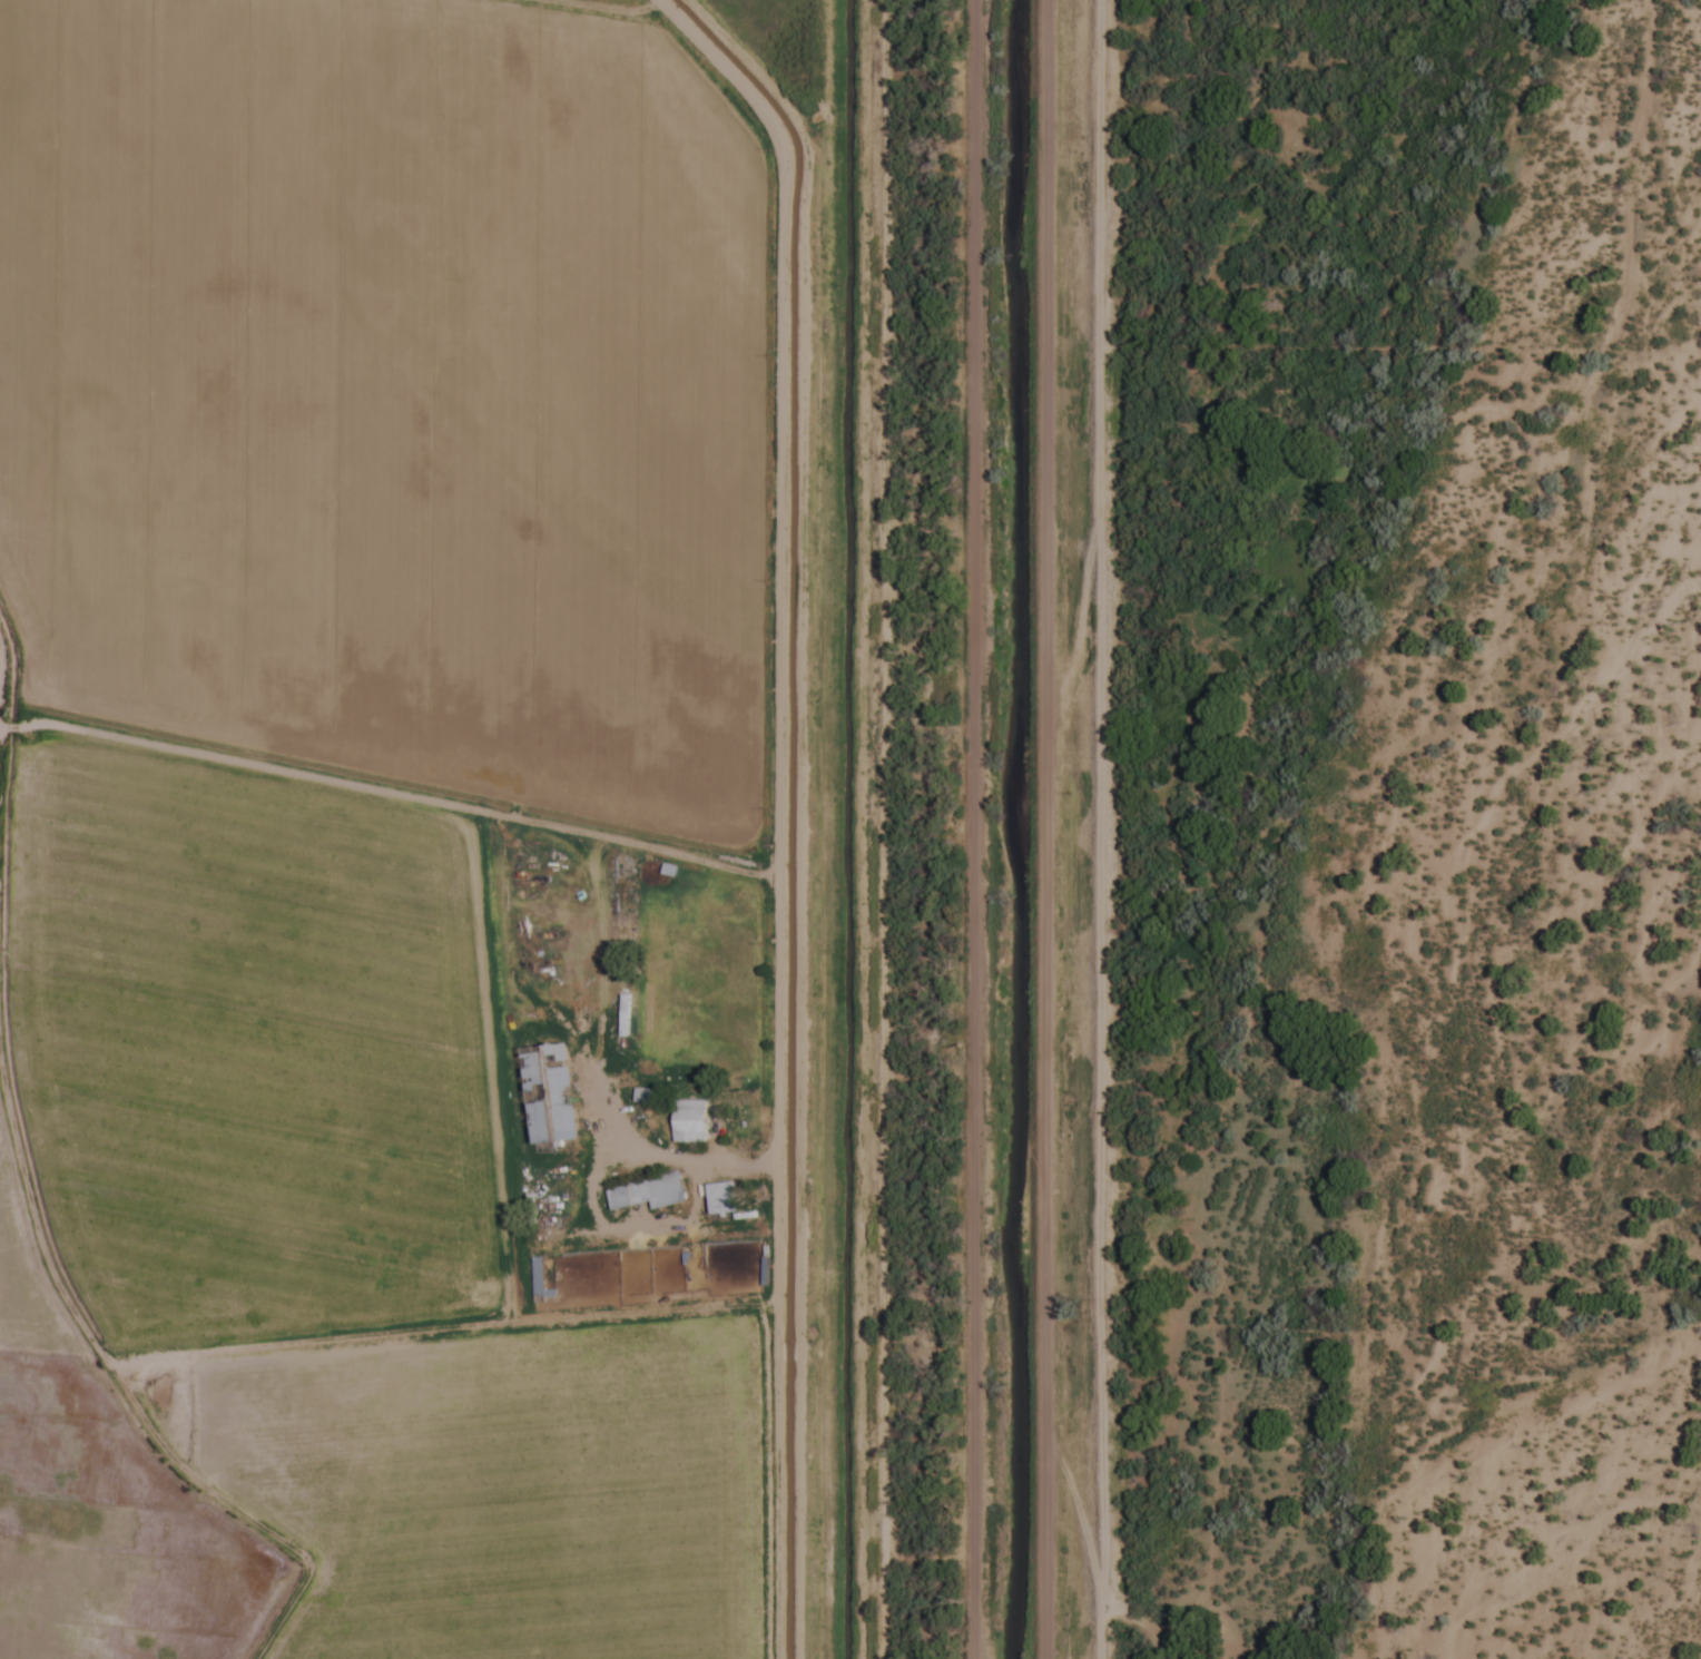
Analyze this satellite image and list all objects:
road: (767, 806)
road: (976, 829)
road: (1097, 829)
building: (549, 1096)
building: (688, 1121)
building: (647, 1194)
building: (720, 1198)
building: (542, 1280)

